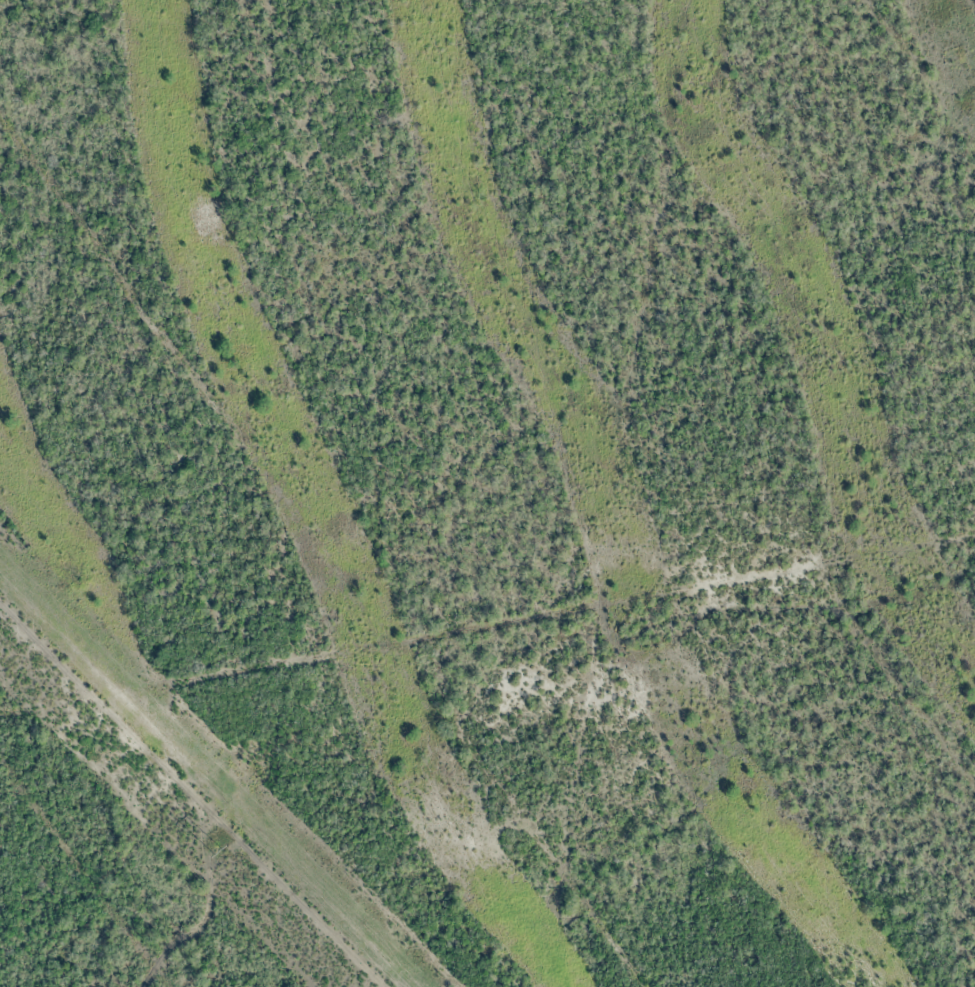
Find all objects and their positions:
power tower: (218, 853)

